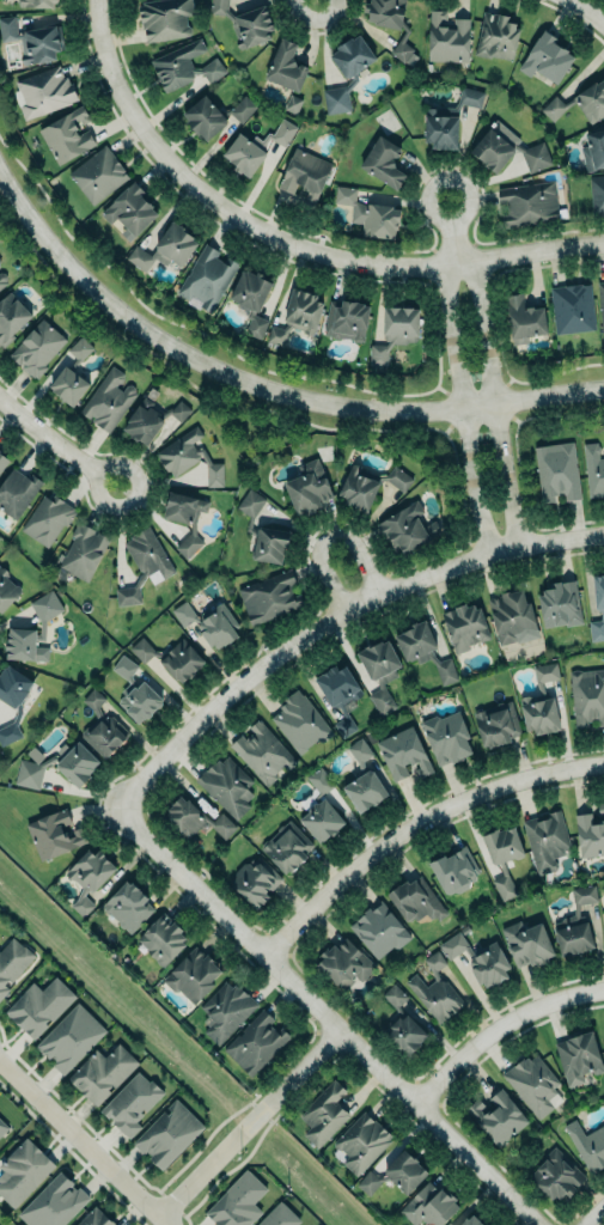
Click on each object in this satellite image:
building: (33, 4)
road: (588, 10)
building: (164, 18)
building: (245, 23)
building: (389, 23)
building: (32, 36)
building: (495, 36)
building: (447, 37)
building: (547, 59)
building: (183, 66)
building: (286, 67)
building: (346, 72)
building: (43, 90)
building: (579, 103)
building: (292, 104)
building: (213, 115)
building: (446, 120)
building: (65, 134)
building: (255, 147)
building: (593, 150)
building: (507, 152)
building: (383, 163)
building: (98, 171)
building: (305, 176)
building: (597, 195)
building: (525, 205)
building: (132, 206)
building: (367, 213)
road: (450, 228)
road: (286, 239)
building: (165, 245)
building: (0, 263)
building: (207, 275)
building: (2, 280)
building: (251, 286)
building: (600, 305)
building: (572, 307)
building: (294, 316)
building: (11, 317)
building: (523, 317)
building: (344, 318)
building: (252, 324)
building: (393, 331)
road: (221, 343)
building: (37, 347)
road: (557, 372)
building: (72, 374)
road: (262, 385)
road: (475, 392)
road: (495, 392)
building: (108, 400)
road: (457, 402)
road: (507, 406)
road: (450, 413)
road: (561, 413)
building: (150, 420)
road: (56, 441)
building: (188, 457)
building: (2, 462)
building: (593, 470)
building: (556, 473)
building: (368, 486)
building: (307, 487)
building: (17, 492)
road: (525, 510)
building: (184, 517)
building: (47, 519)
building: (407, 529)
road: (324, 530)
building: (260, 532)
building: (83, 551)
building: (144, 562)
building: (7, 590)
building: (269, 597)
building: (560, 603)
building: (597, 607)
road: (330, 614)
building: (512, 615)
building: (209, 623)
building: (464, 623)
building: (24, 646)
building: (422, 651)
building: (169, 656)
building: (379, 671)
building: (338, 688)
building: (134, 691)
building: (587, 695)
building: (12, 700)
building: (541, 701)
building: (300, 721)
building: (496, 721)
building: (102, 727)
building: (445, 737)
building: (262, 751)
building: (402, 752)
building: (55, 764)
building: (362, 779)
building: (226, 785)
building: (318, 806)
building: (194, 819)
road: (414, 821)
building: (590, 831)
building: (53, 834)
building: (544, 840)
building: (286, 846)
building: (499, 855)
building: (453, 871)
building: (89, 876)
building: (254, 880)
building: (414, 900)
building: (127, 904)
building: (574, 925)
building: (378, 930)
building: (161, 939)
building: (525, 943)
building: (477, 959)
building: (12, 962)
building: (343, 962)
building: (193, 975)
building: (434, 988)
building: (38, 1005)
building: (224, 1010)
road: (327, 1014)
building: (398, 1022)
road: (498, 1025)
building: (68, 1035)
building: (255, 1042)
building: (578, 1055)
building: (102, 1071)
building: (531, 1083)
building: (130, 1102)
building: (323, 1113)
building: (496, 1115)
road: (248, 1120)
building: (2, 1126)
building: (167, 1134)
building: (361, 1141)
road: (84, 1144)
building: (587, 1144)
building: (22, 1170)
building: (392, 1170)
building: (555, 1172)
building: (53, 1201)
building: (236, 1201)
building: (429, 1203)
road: (590, 1211)
building: (94, 1217)
building: (279, 1217)
building: (470, 1220)
building: (73, 1224)

